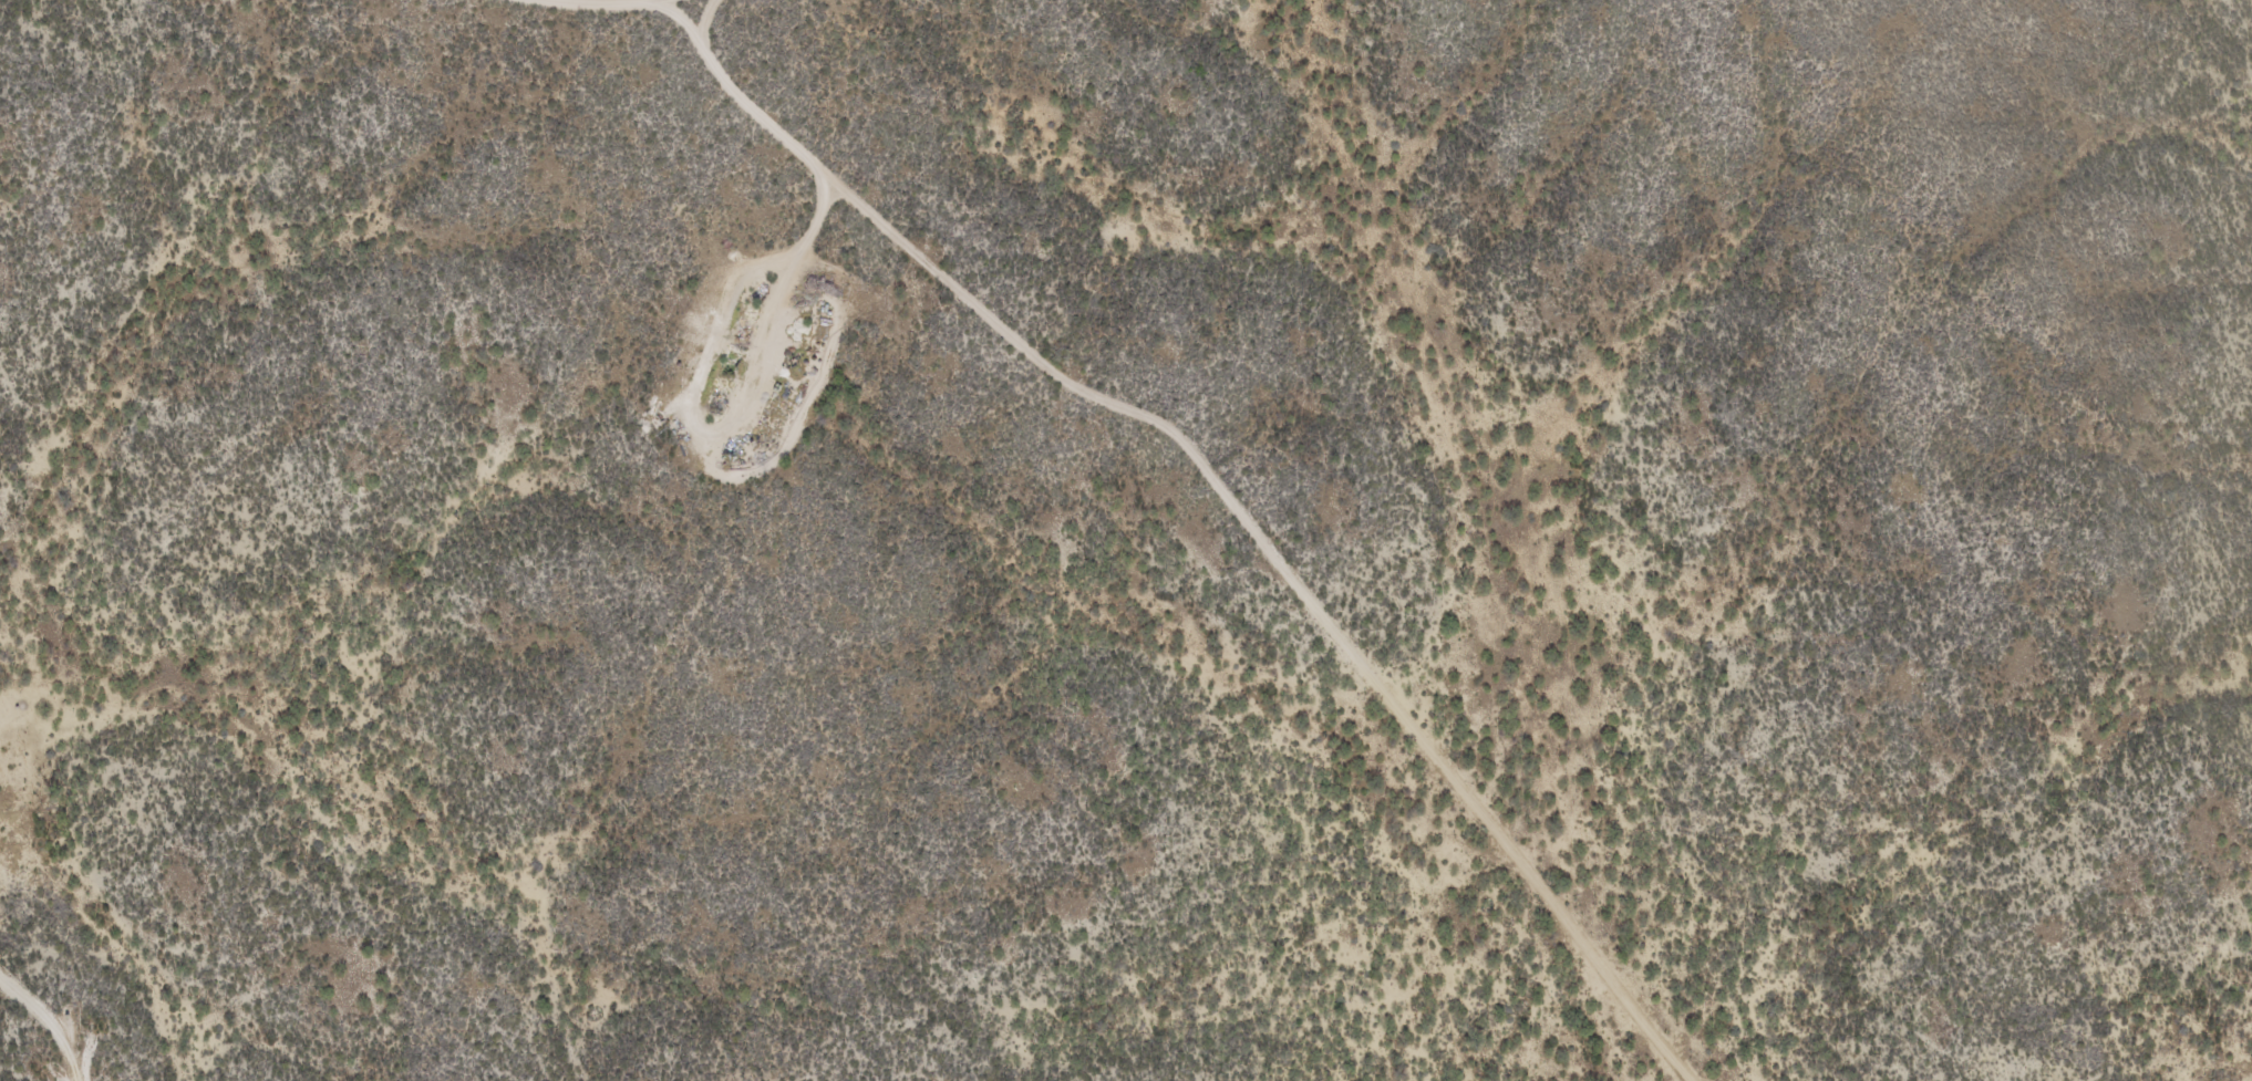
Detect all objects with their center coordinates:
road: (608, 7)
road: (30, 1041)

